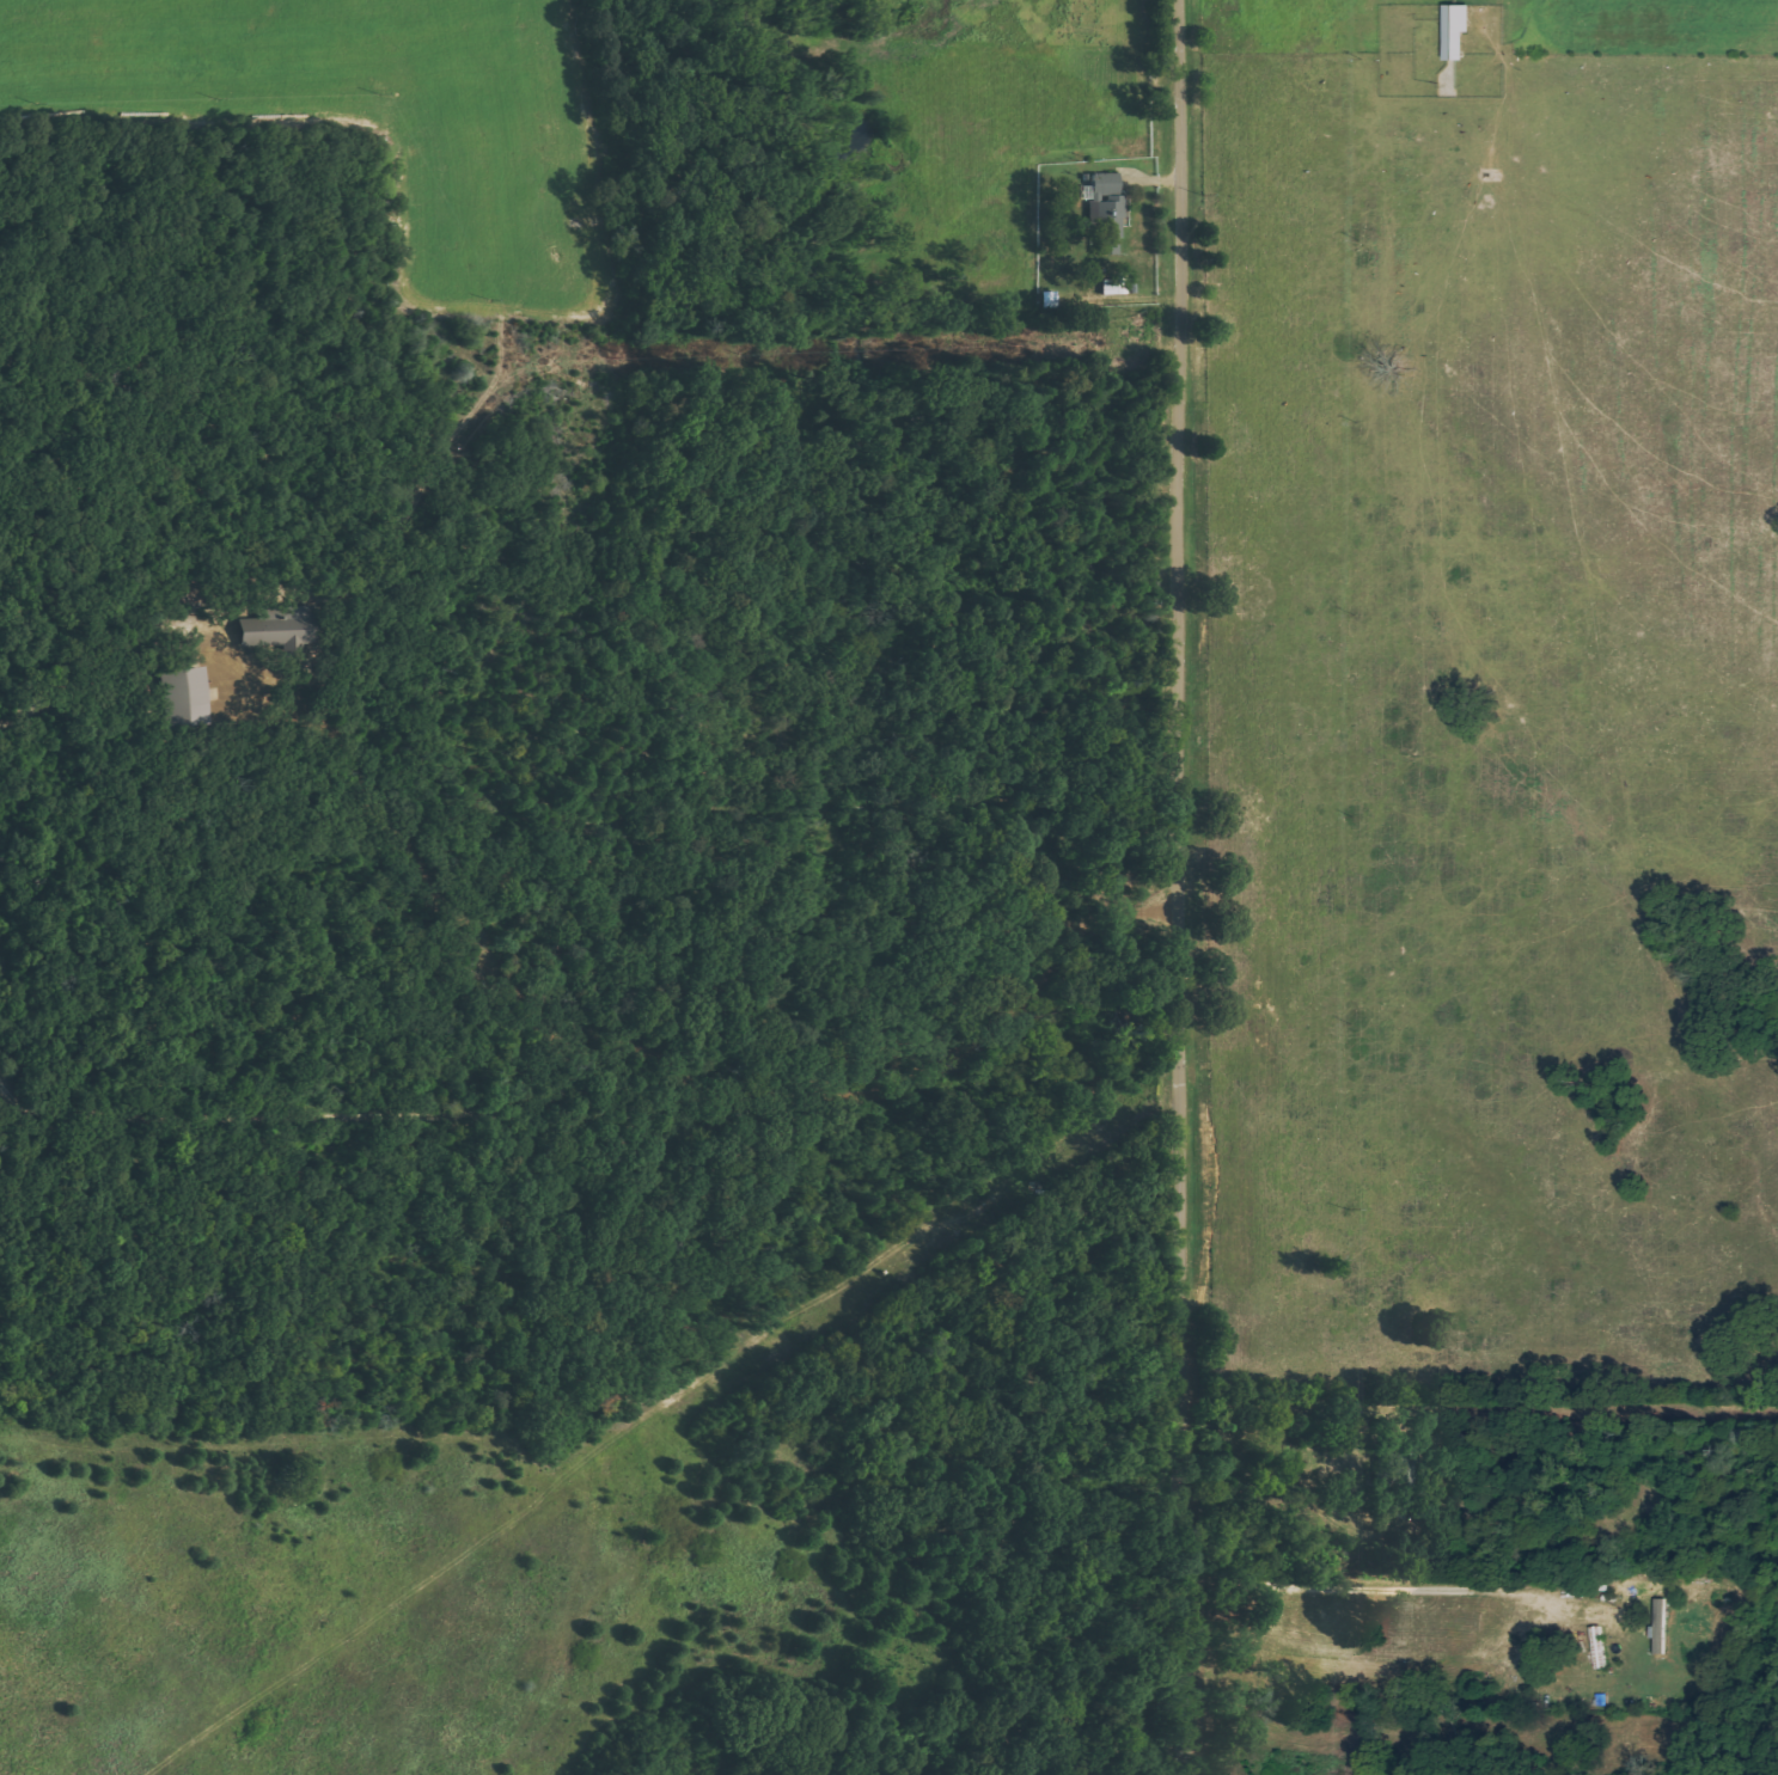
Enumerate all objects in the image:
building: (1460, 31)
building: (1108, 213)
building: (279, 628)
road: (1180, 887)
road: (1480, 1393)
building: (1663, 1626)

